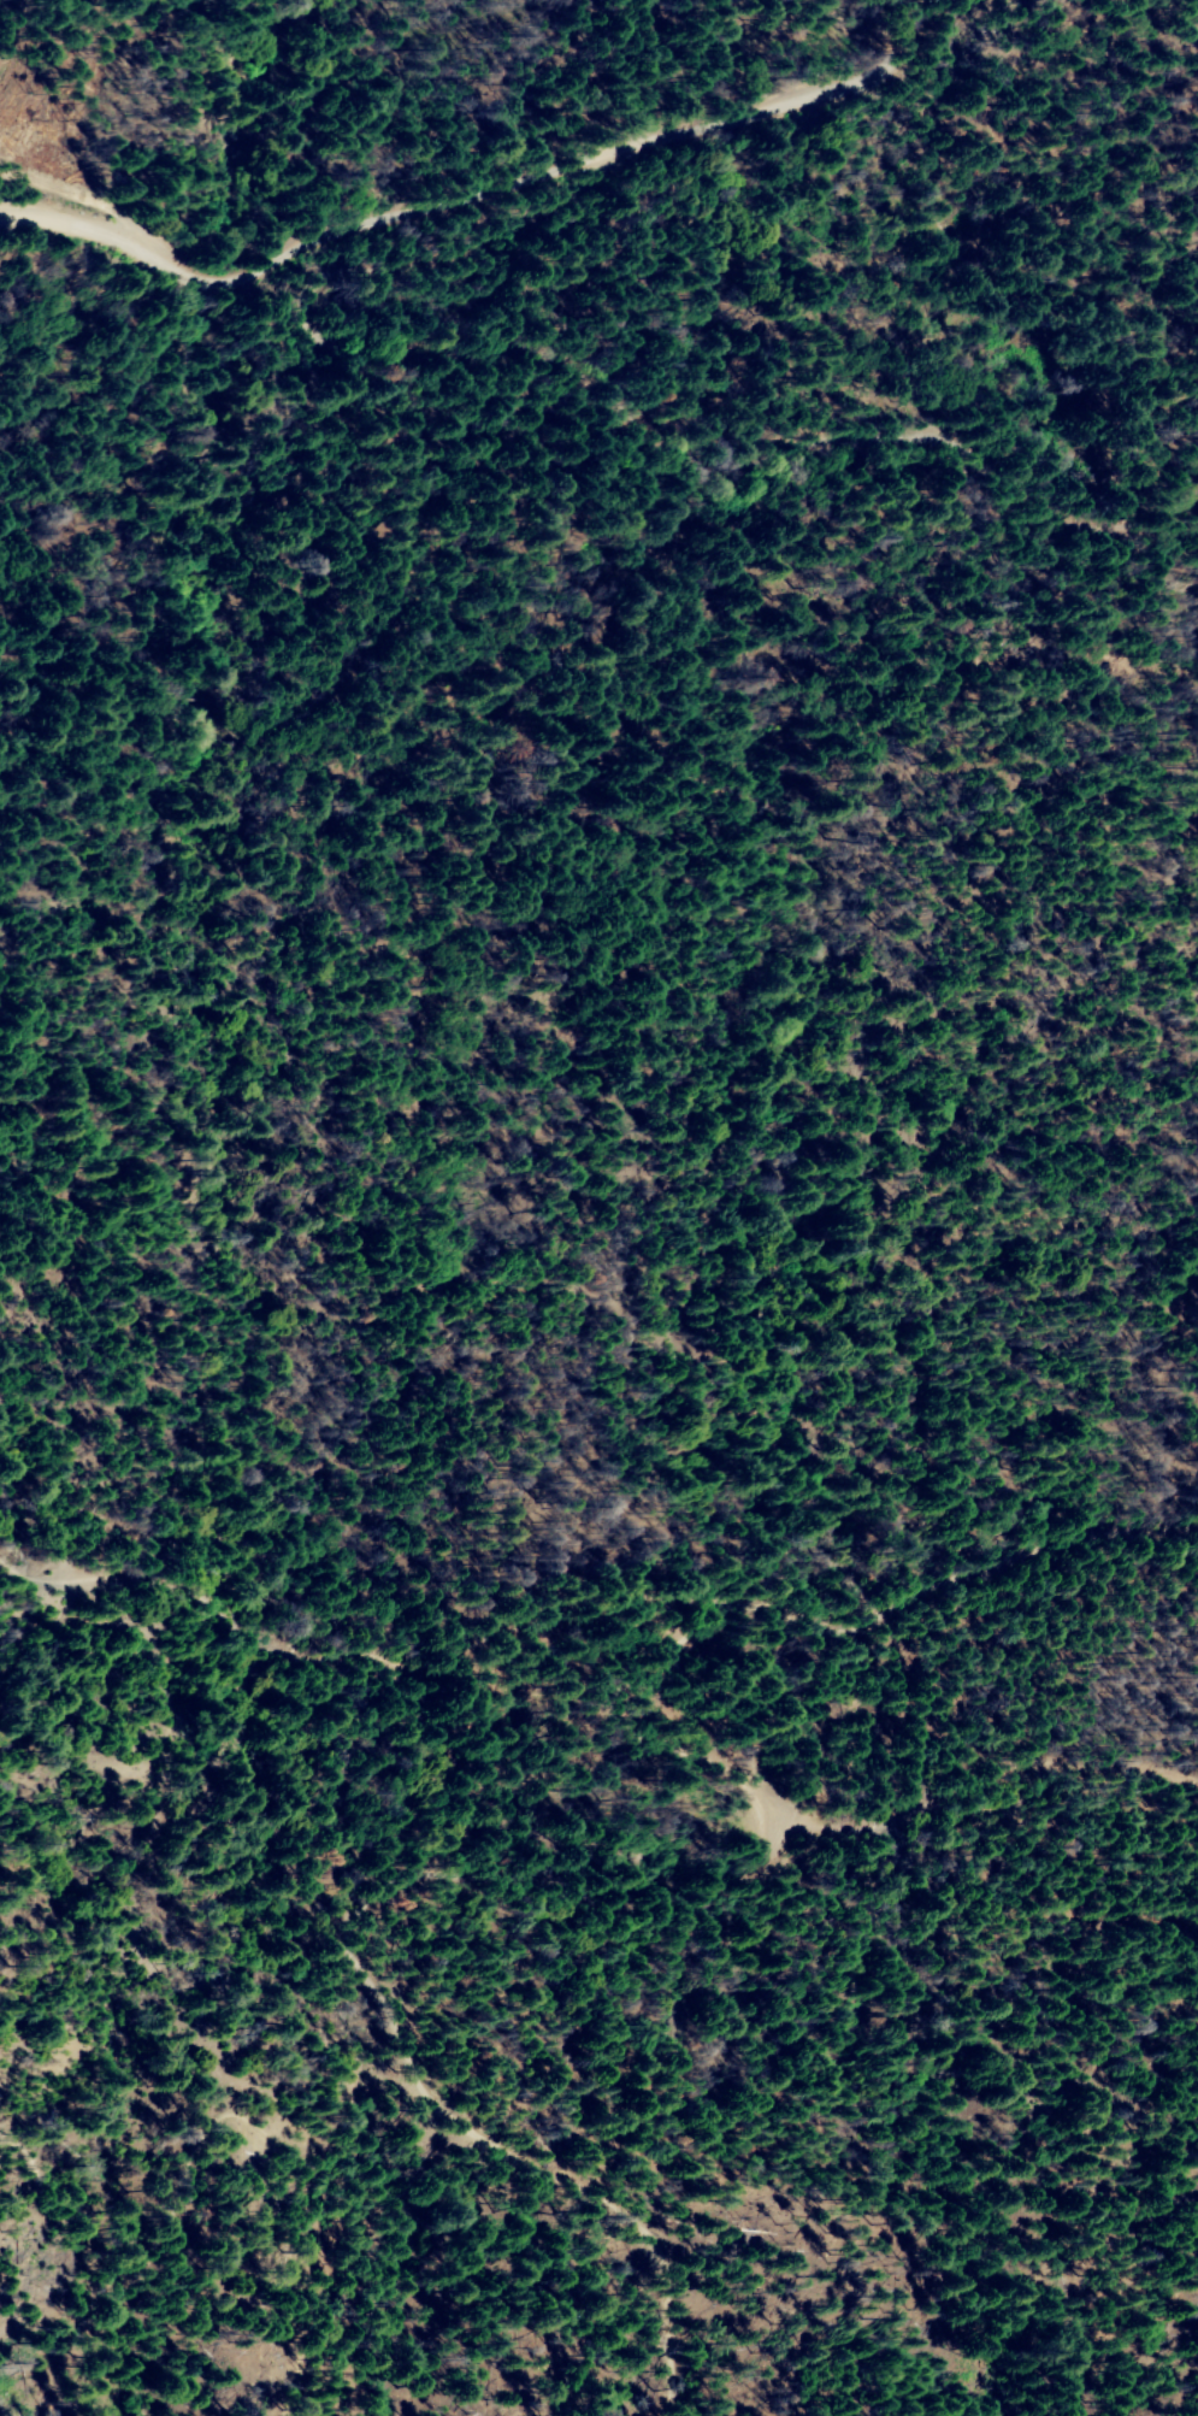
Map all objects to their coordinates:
road: (71, 191)
road: (492, 201)
road: (595, 382)
road: (360, 514)
road: (568, 1780)
road: (456, 2121)

